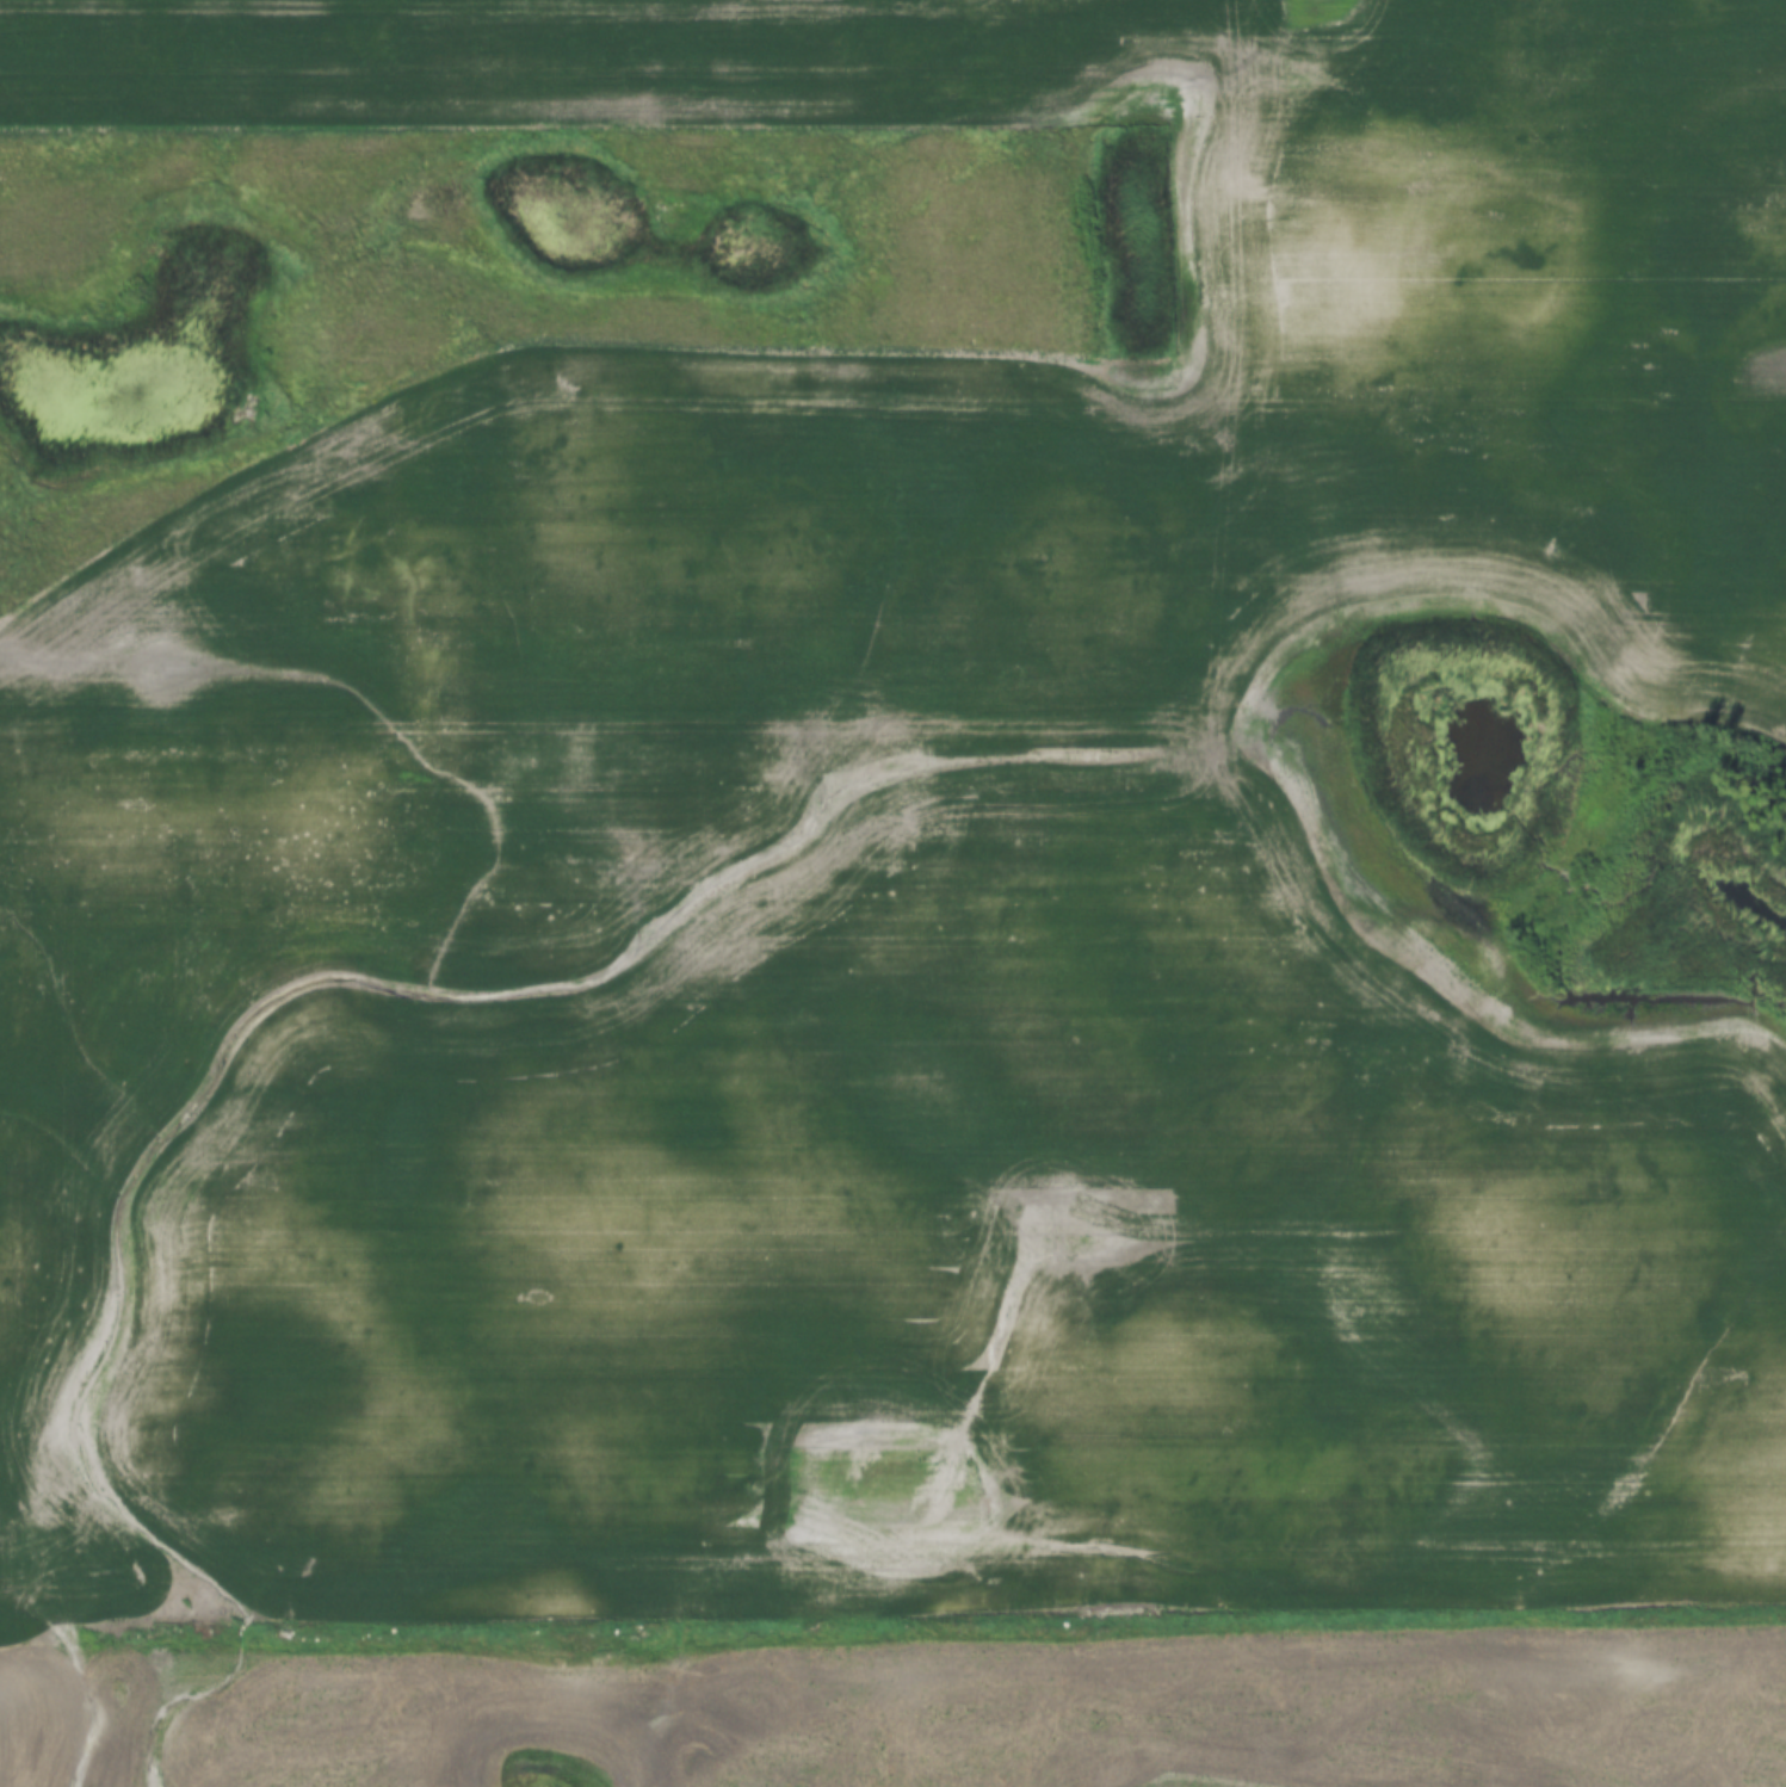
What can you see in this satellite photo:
road: (1339, 735)
road: (892, 1622)

